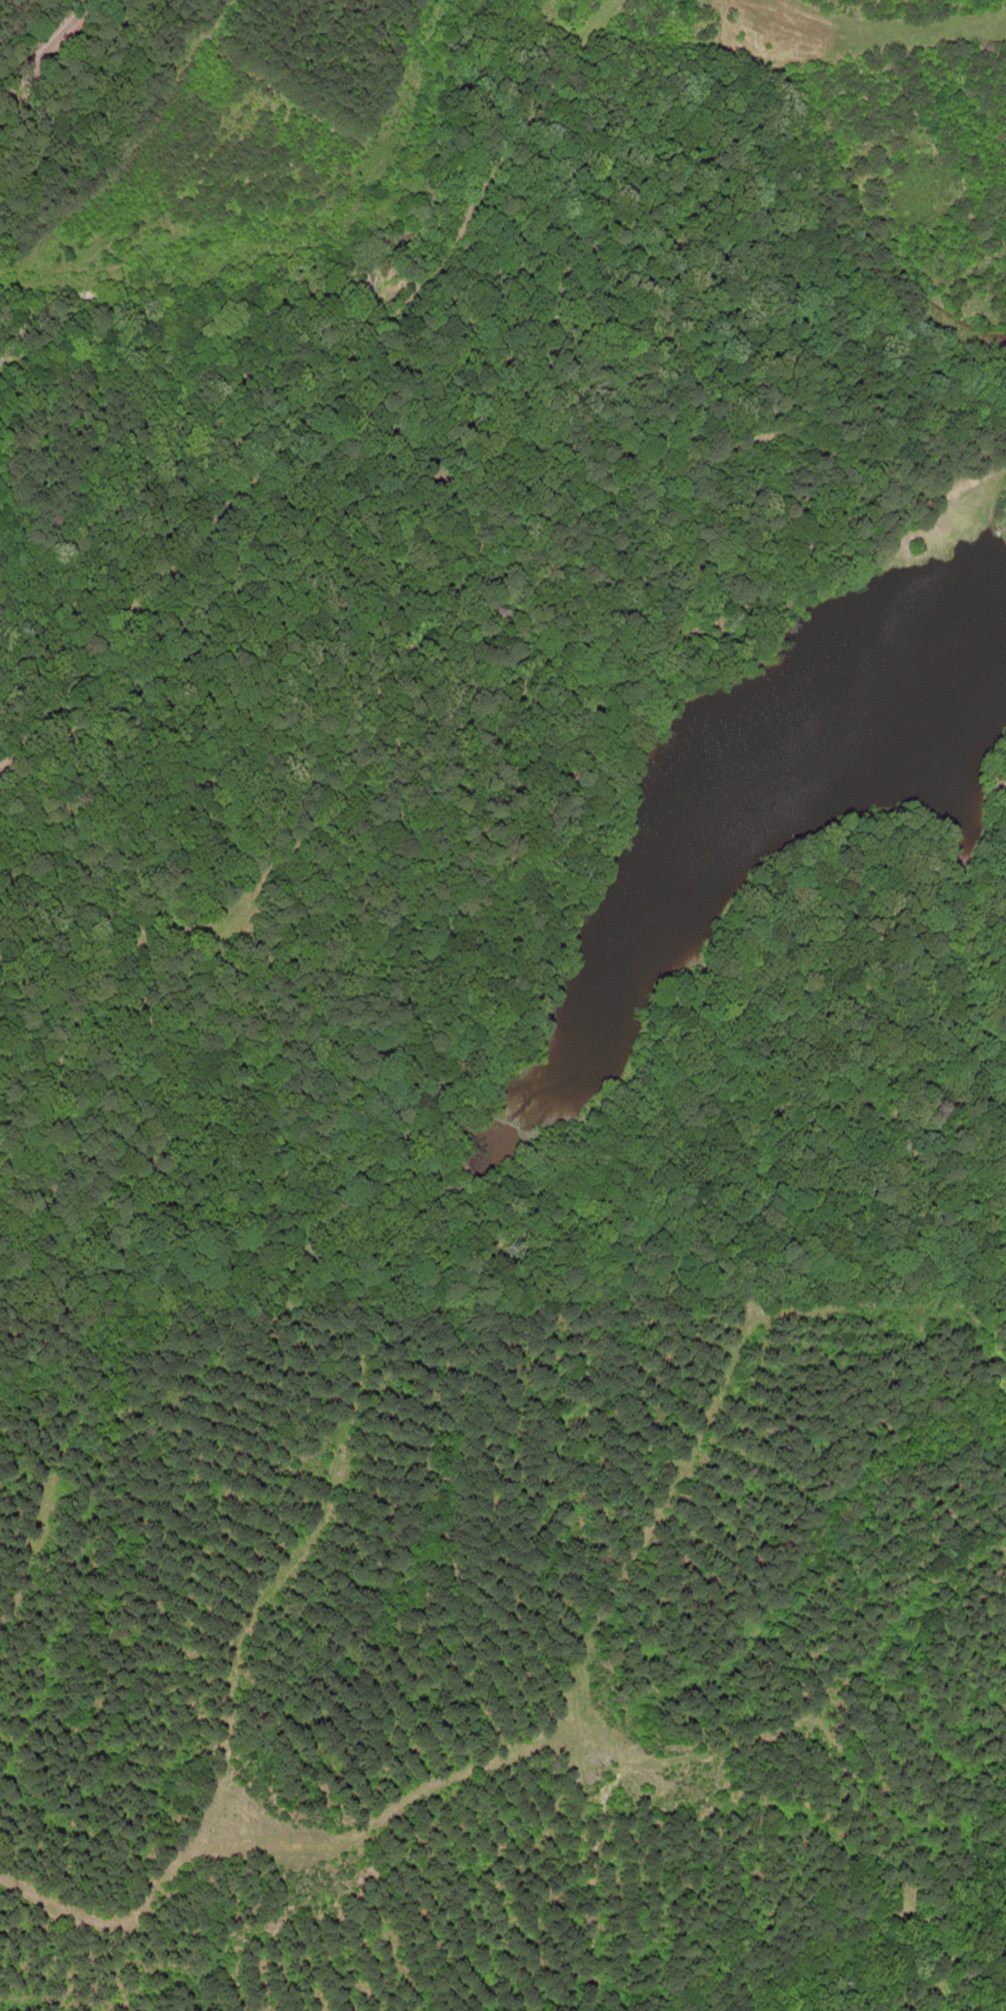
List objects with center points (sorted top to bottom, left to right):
railway: (34, 36)

